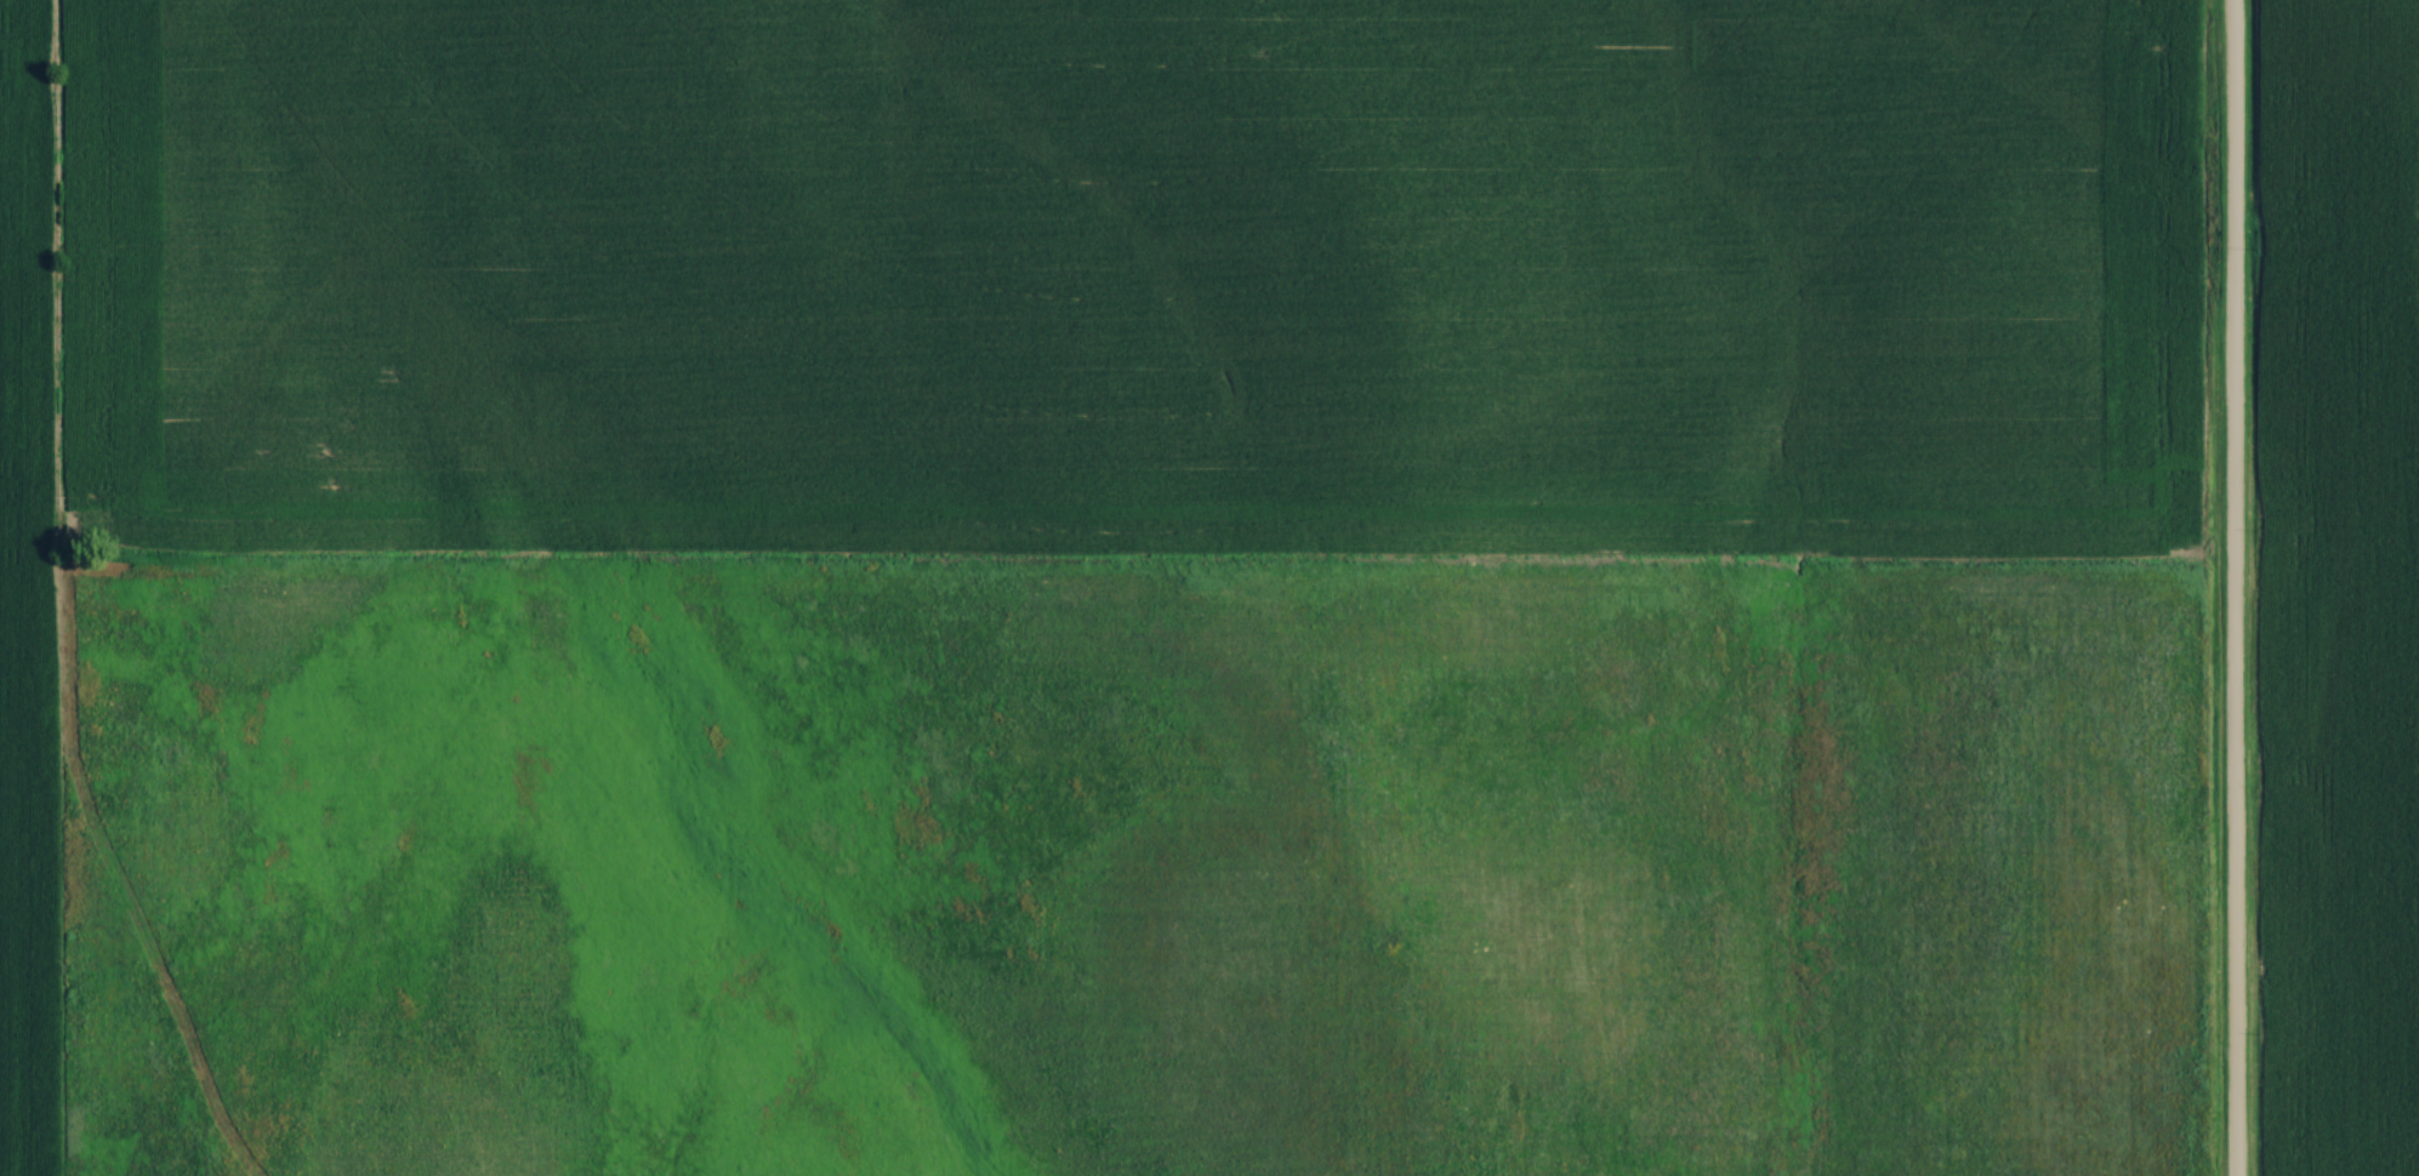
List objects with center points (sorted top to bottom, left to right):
road: (2233, 587)

